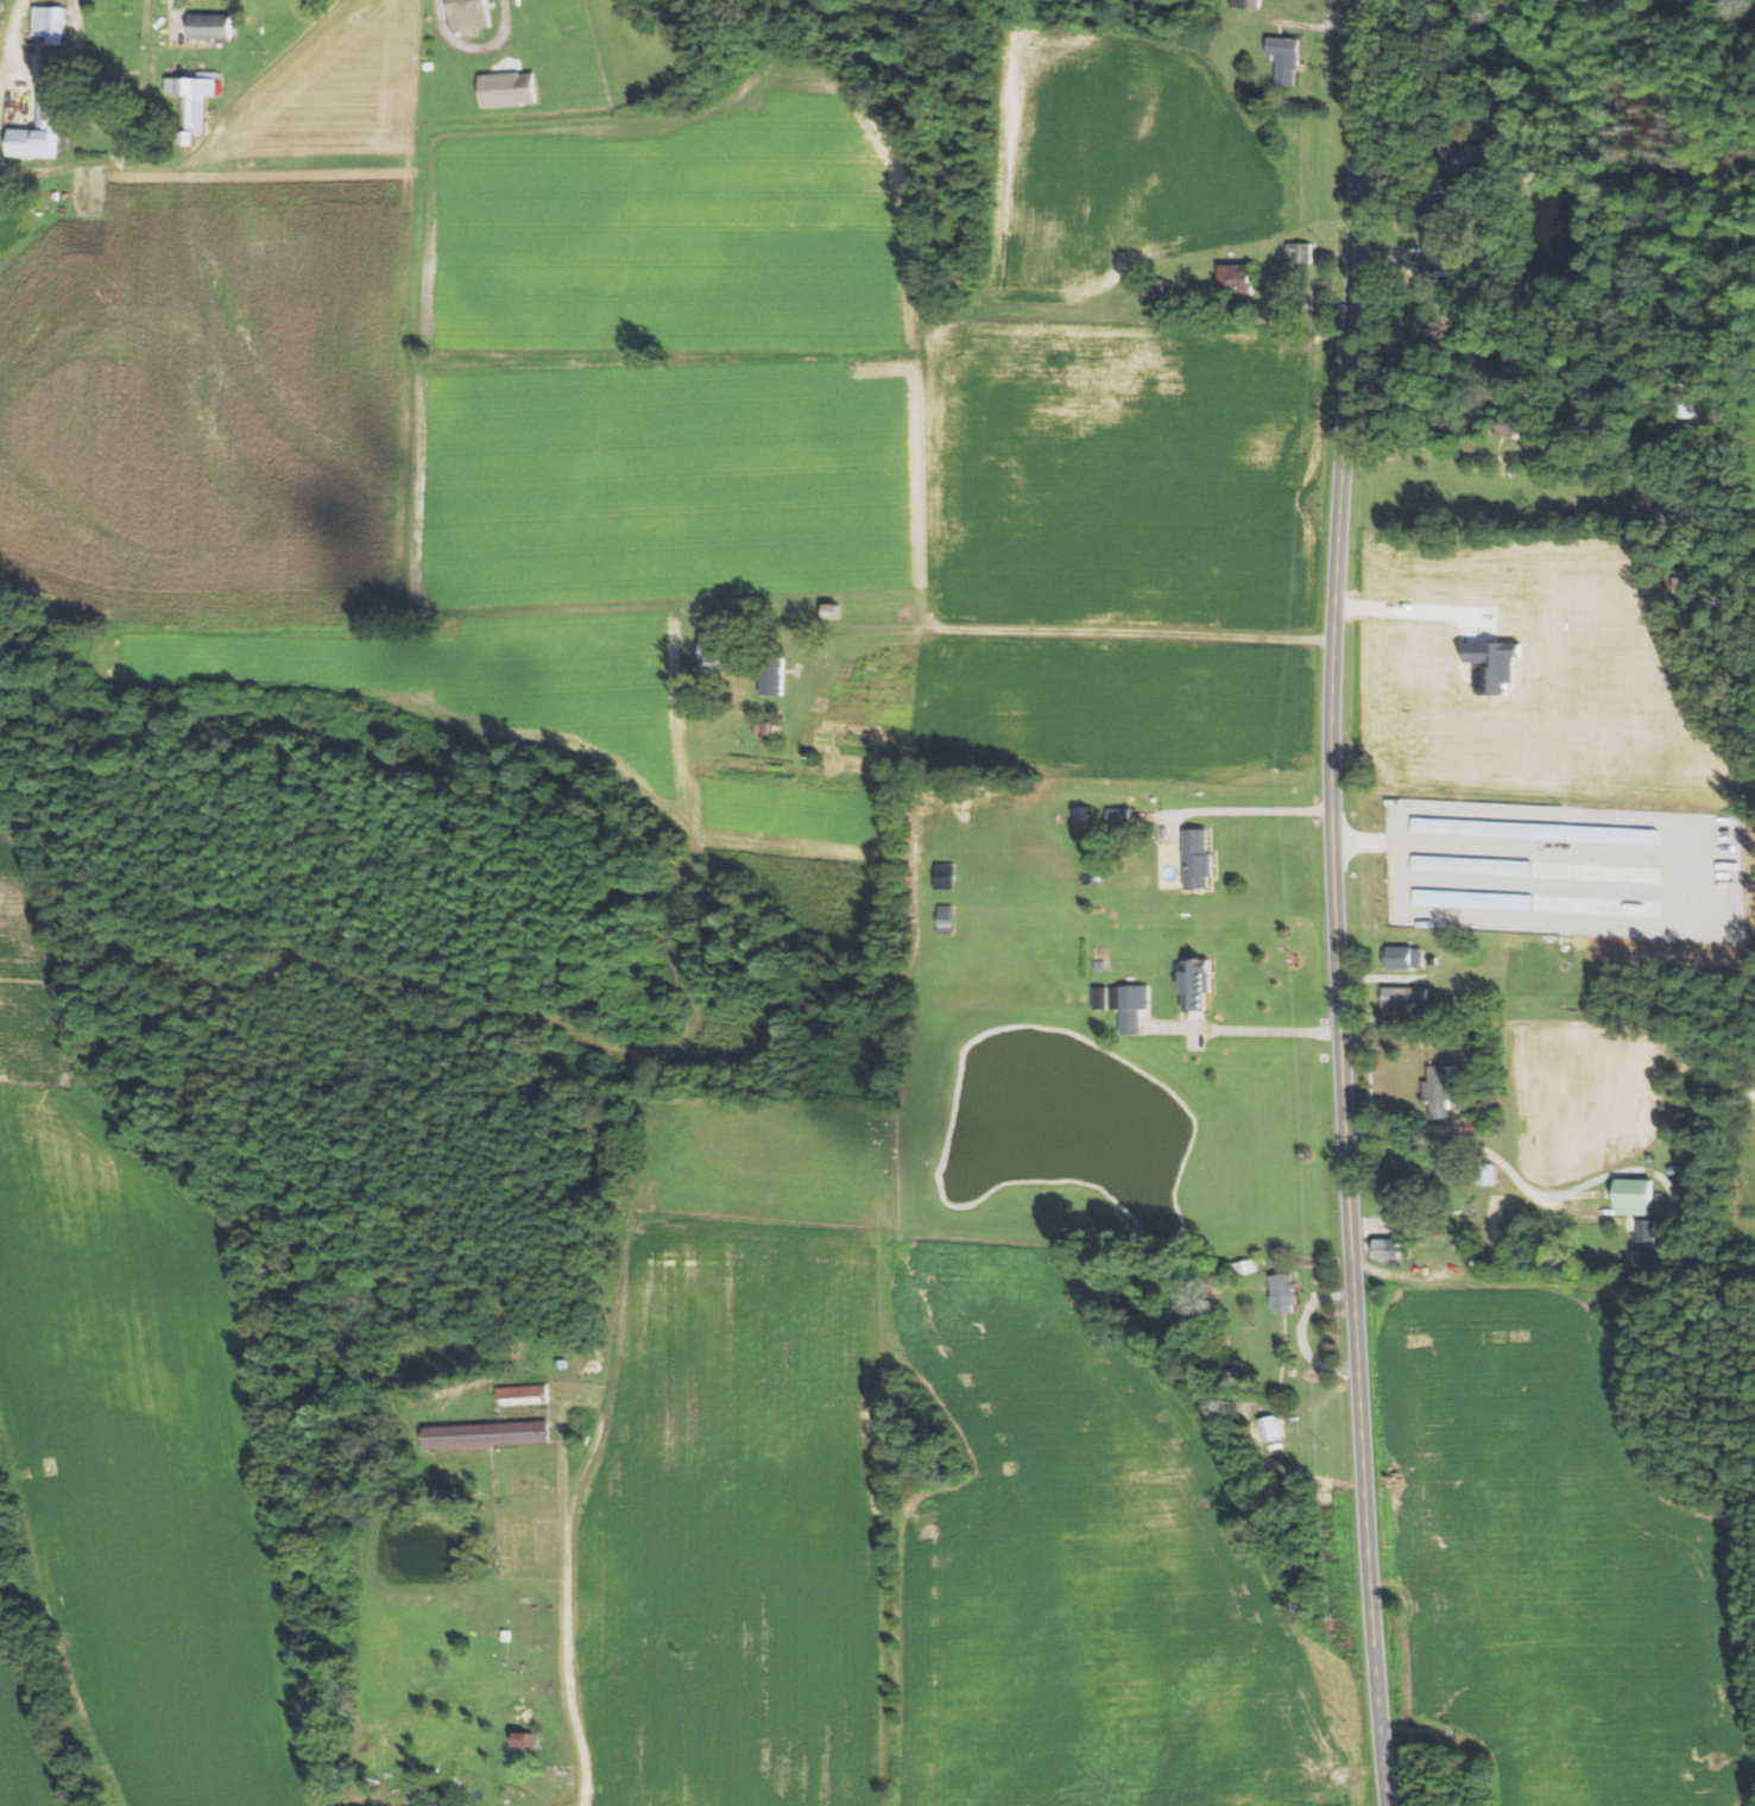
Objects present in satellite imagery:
building: (1246, 2)
building: (468, 17)
building: (50, 25)
building: (210, 25)
building: (1288, 58)
building: (507, 89)
building: (194, 102)
building: (37, 132)
building: (1488, 158)
building: (1442, 244)
building: (1302, 252)
building: (1238, 278)
building: (1694, 400)
building: (1513, 415)
road: (1485, 438)
road: (1079, 648)
building: (715, 655)
building: (772, 731)
road: (1249, 809)
building: (1473, 827)
building: (1199, 858)
building: (1473, 865)
road: (1334, 903)
building: (1408, 958)
building: (1199, 985)
building: (1407, 997)
building: (1126, 1004)
road: (1250, 1029)
building: (1442, 1088)
building: (1488, 1173)
building: (1637, 1196)
building: (1404, 1202)
building: (1650, 1245)
building: (1390, 1249)
road: (1523, 1252)
building: (1286, 1293)
building: (524, 1394)
road: (583, 1401)
building: (1271, 1427)
building: (488, 1433)
road: (569, 1644)
building: (529, 1738)
building: (450, 1805)

